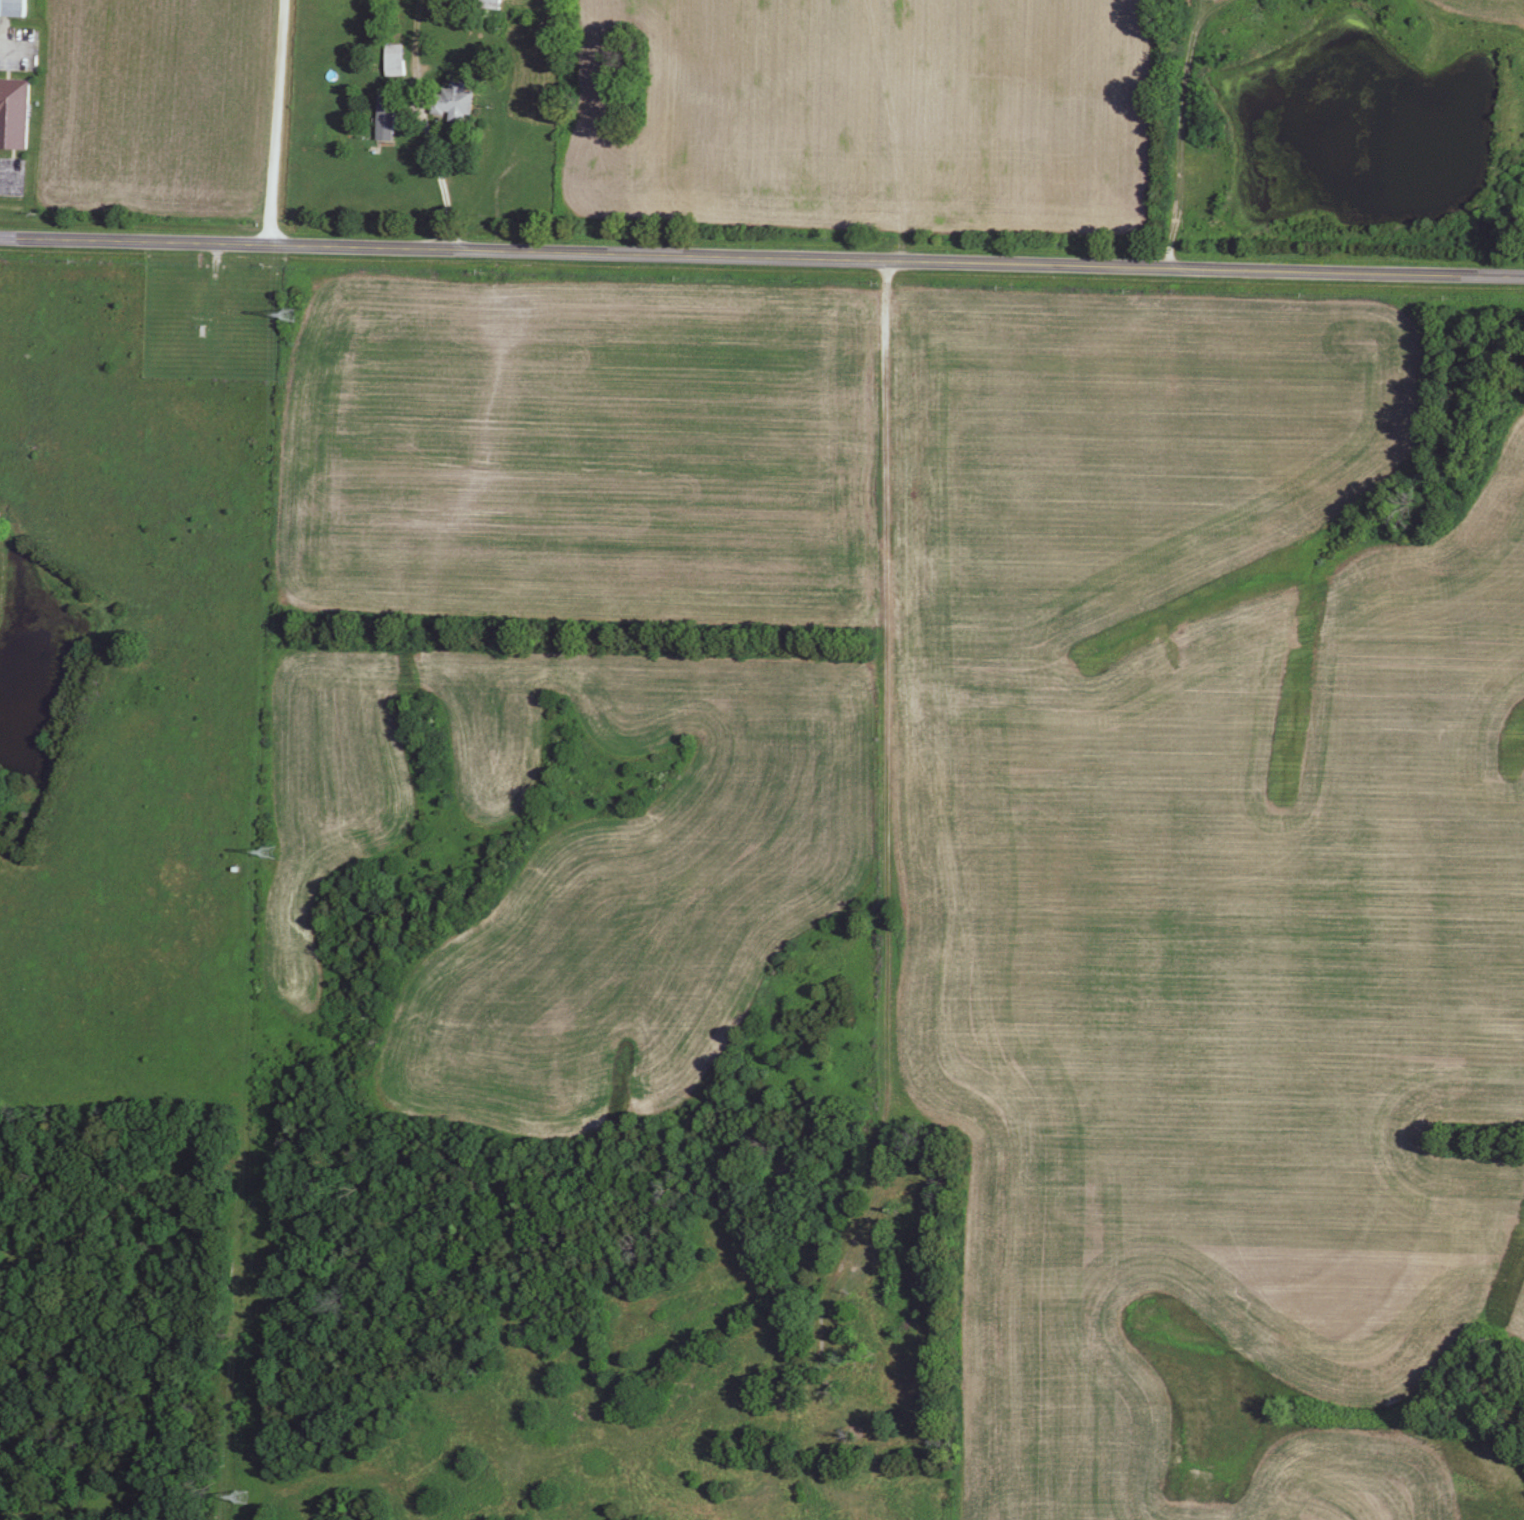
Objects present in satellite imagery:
building: (490, 3)
building: (14, 9)
building: (395, 62)
building: (454, 103)
building: (15, 115)
building: (387, 116)
road: (275, 126)
road: (427, 131)
road: (762, 263)
power tower: (292, 316)
road: (886, 824)
power tower: (269, 857)
building: (852, 1408)
building: (728, 1469)
building: (242, 1498)
power tower: (238, 1501)
building: (708, 1514)

